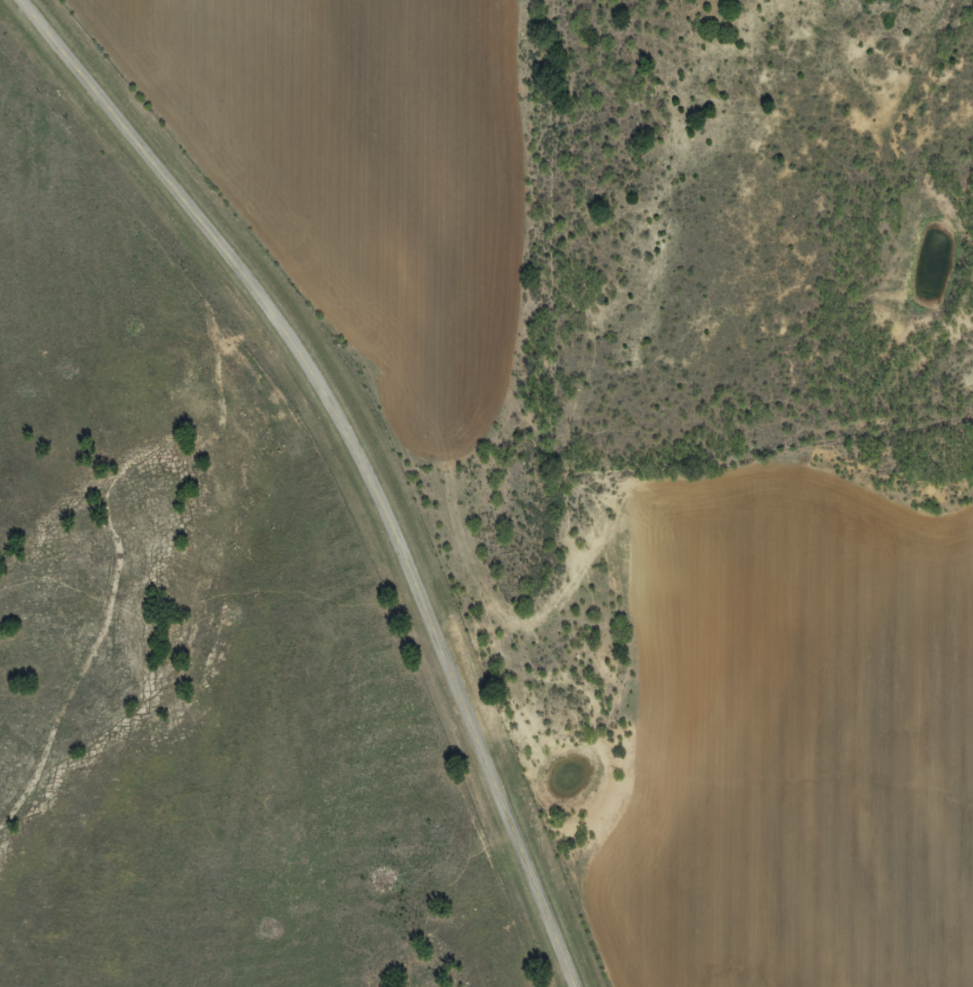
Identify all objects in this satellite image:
road: (361, 459)

